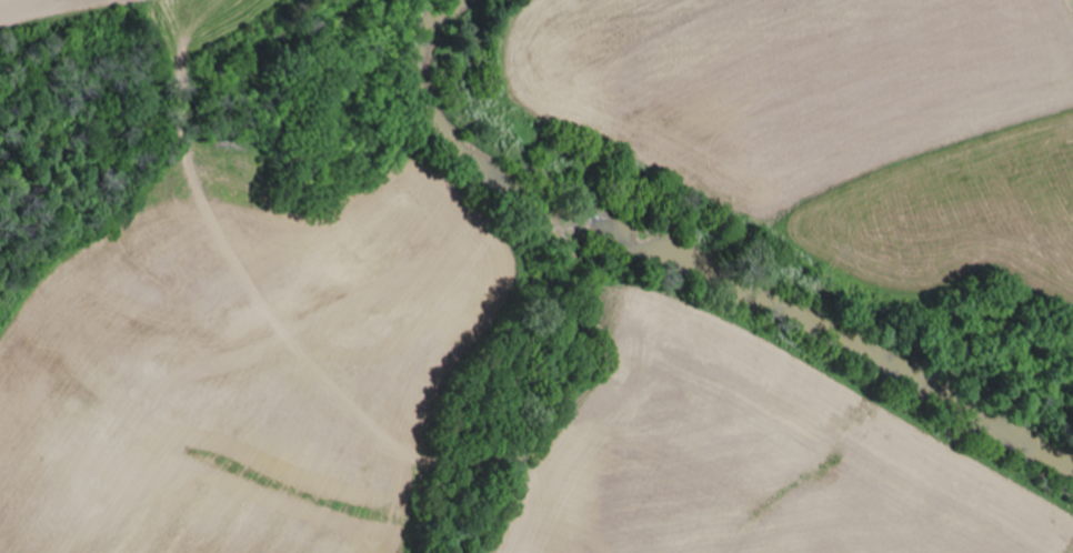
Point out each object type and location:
road: (50, 21)
river: (691, 254)

